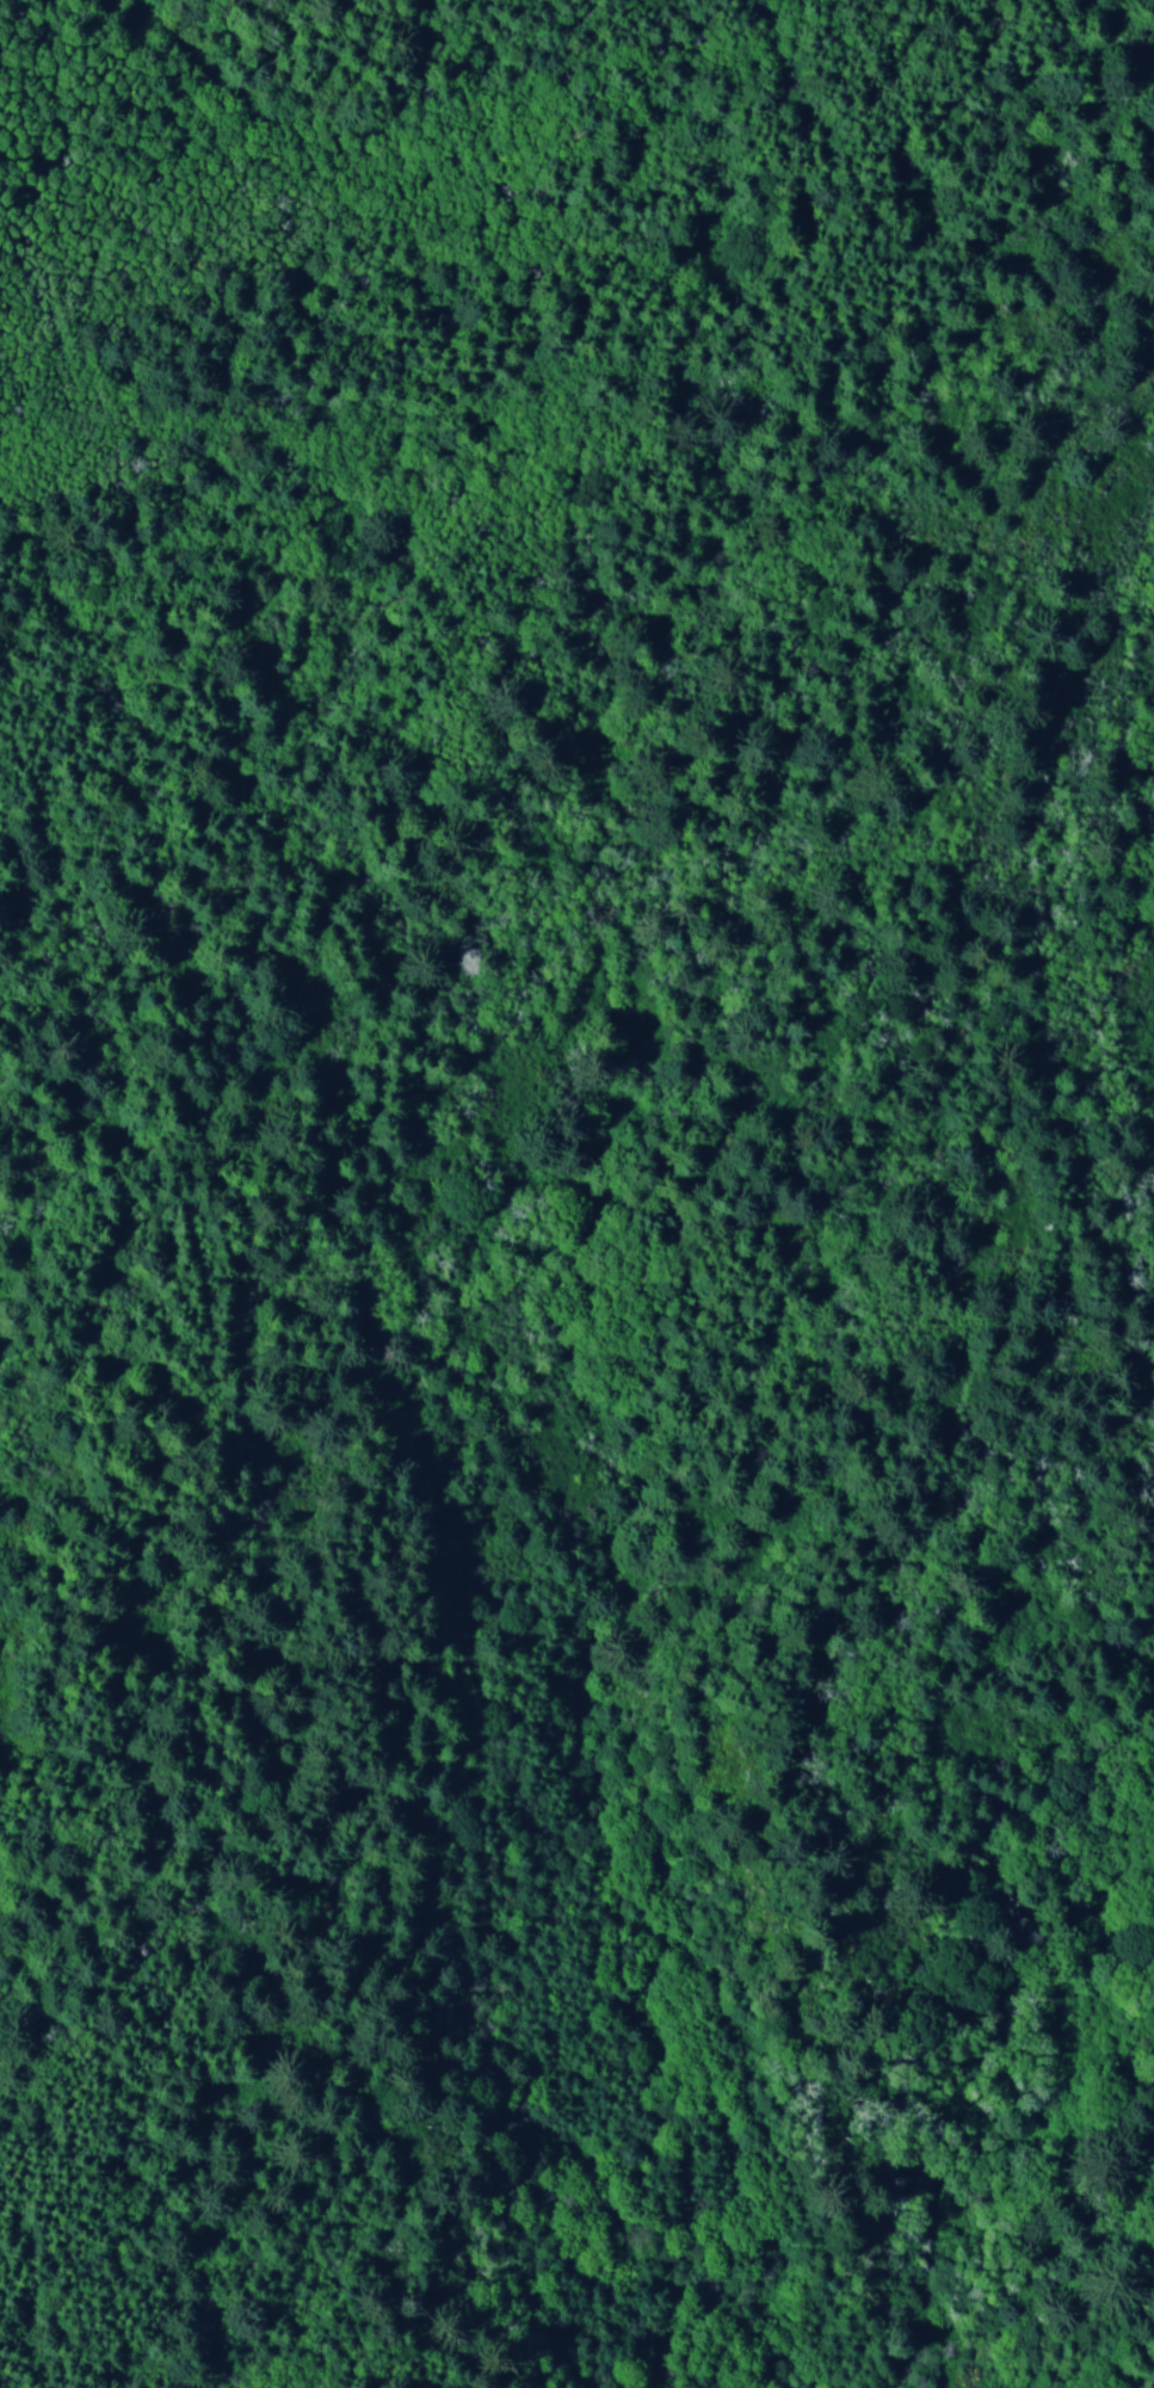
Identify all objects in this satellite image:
road: (475, 344)

